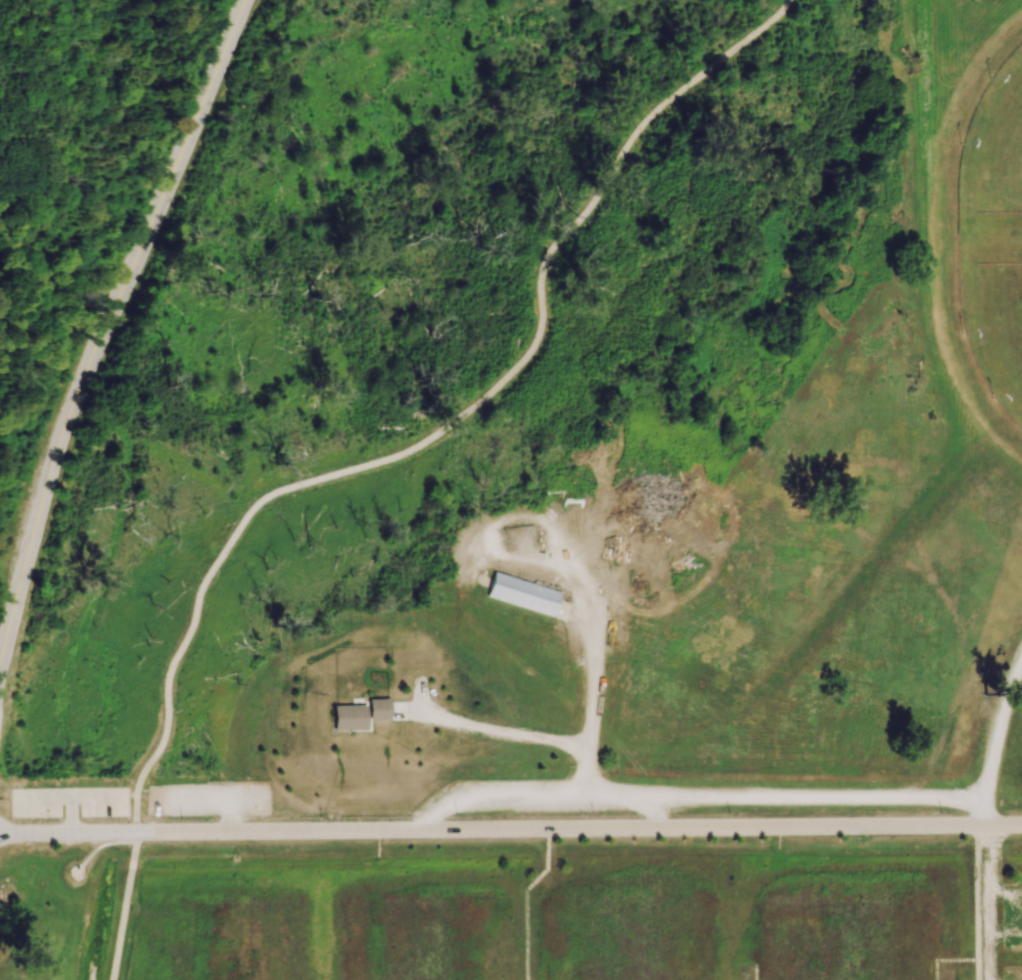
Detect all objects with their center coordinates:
park: (994, 147)
park: (77, 190)
park: (994, 331)
road: (107, 332)
road: (447, 427)
park: (550, 514)
building: (521, 595)
road: (589, 644)
building: (376, 709)
building: (347, 718)
road: (997, 725)
road: (495, 738)
road: (934, 751)
road: (391, 761)
road: (540, 795)
road: (72, 796)
road: (133, 796)
parking lot: (512, 797)
road: (783, 798)
road: (947, 799)
road: (168, 801)
road: (329, 801)
road: (200, 802)
parking lot: (70, 804)
road: (985, 813)
road: (655, 814)
road: (72, 815)
road: (426, 815)
road: (232, 817)
road: (510, 830)
road: (99, 848)
road: (975, 893)
road: (1004, 893)
road: (525, 900)
road: (987, 903)
road: (125, 906)
parking lot: (1013, 919)
road: (1004, 933)
park: (845, 937)
park: (424, 940)
park: (627, 940)
park: (223, 941)
road: (945, 960)
road: (976, 970)
road: (755, 972)
parking lot: (1012, 973)

